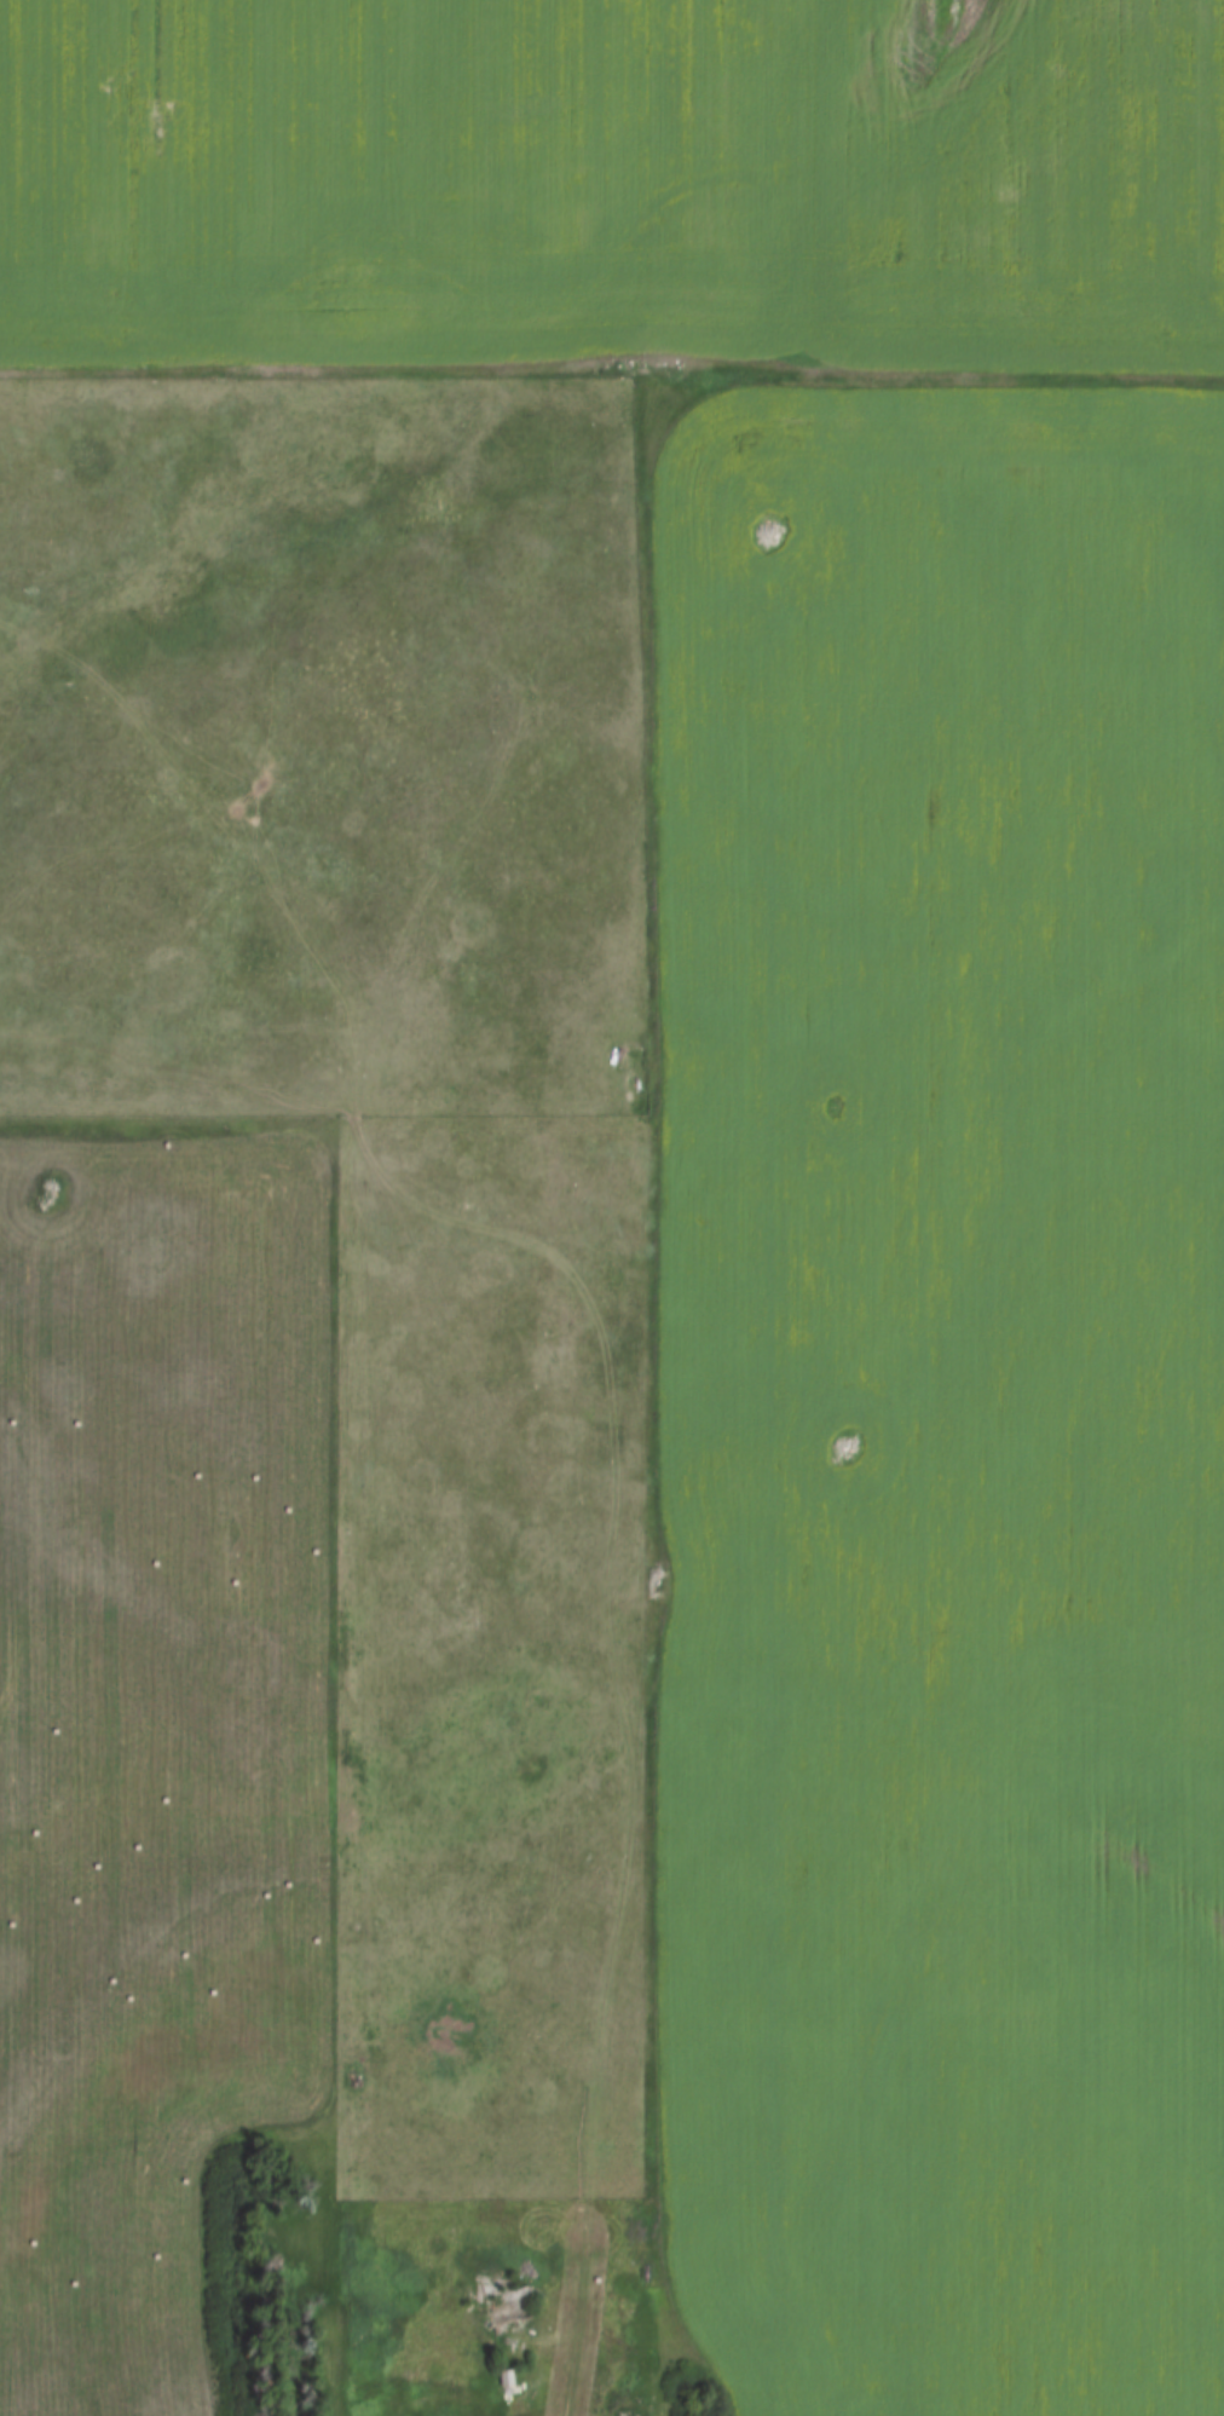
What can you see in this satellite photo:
building: (575, 2051)
building: (489, 2285)
road: (555, 2365)
building: (507, 2381)

